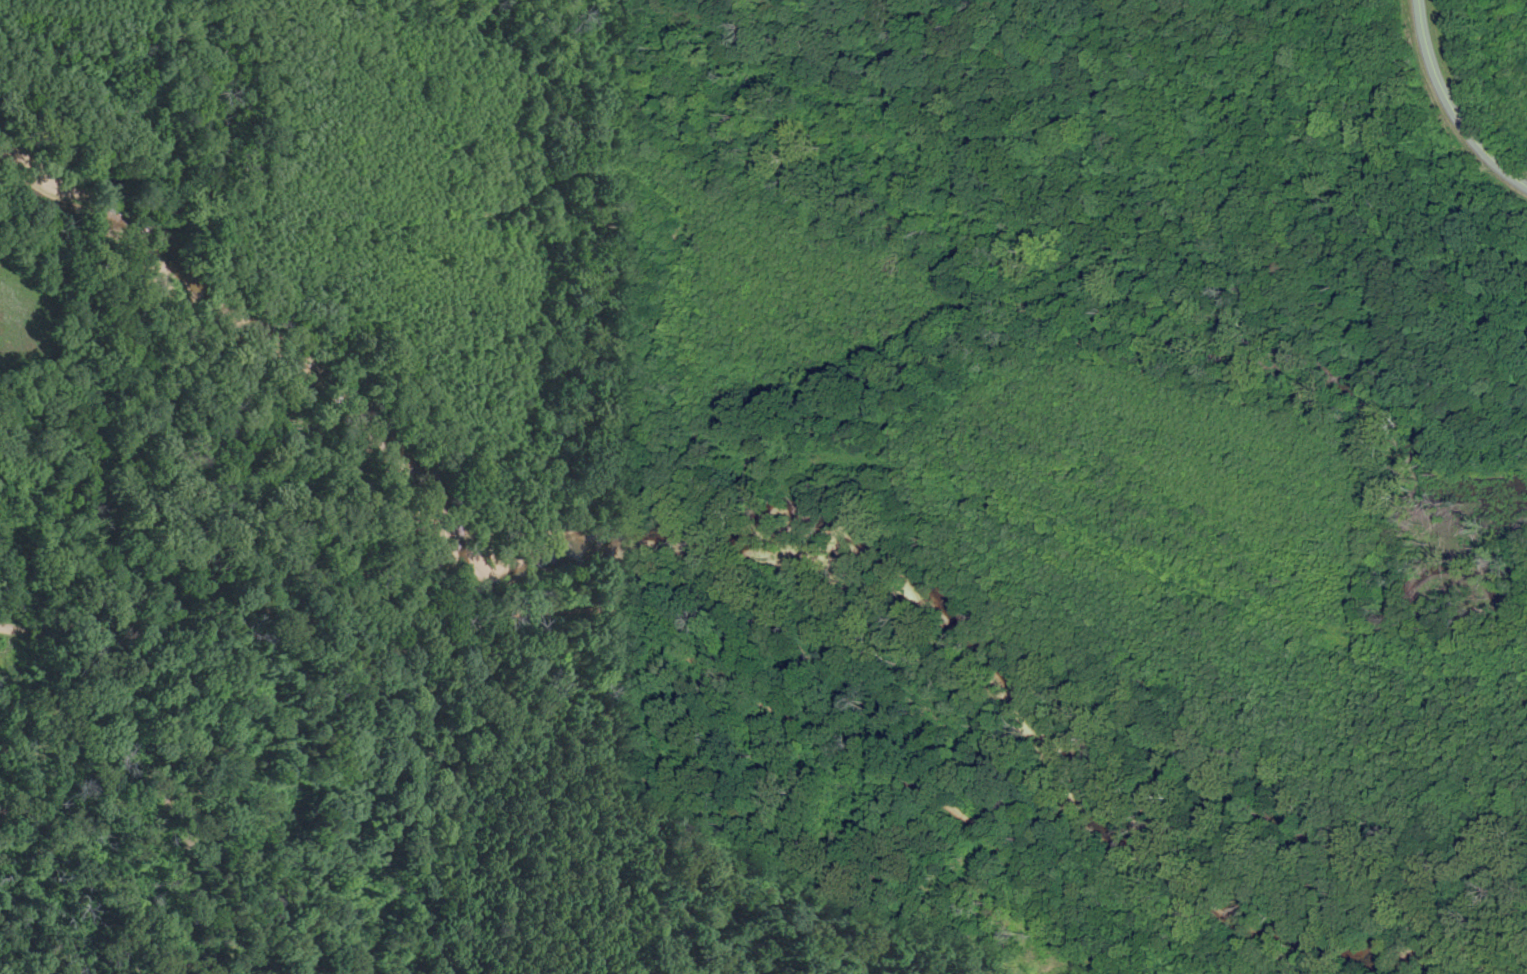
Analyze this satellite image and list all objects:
road: (1448, 108)
road: (612, 611)

